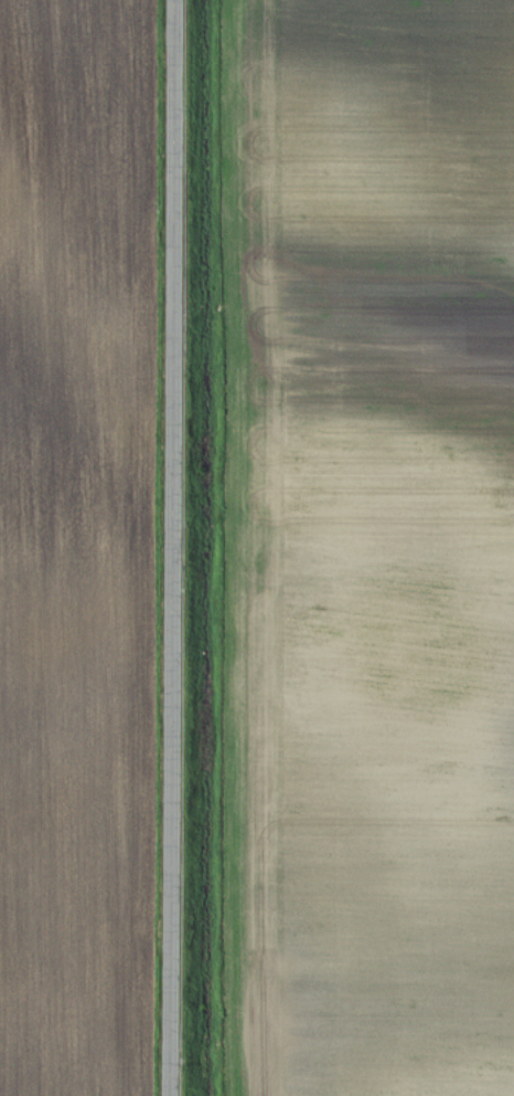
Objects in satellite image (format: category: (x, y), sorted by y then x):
road: (176, 548)

